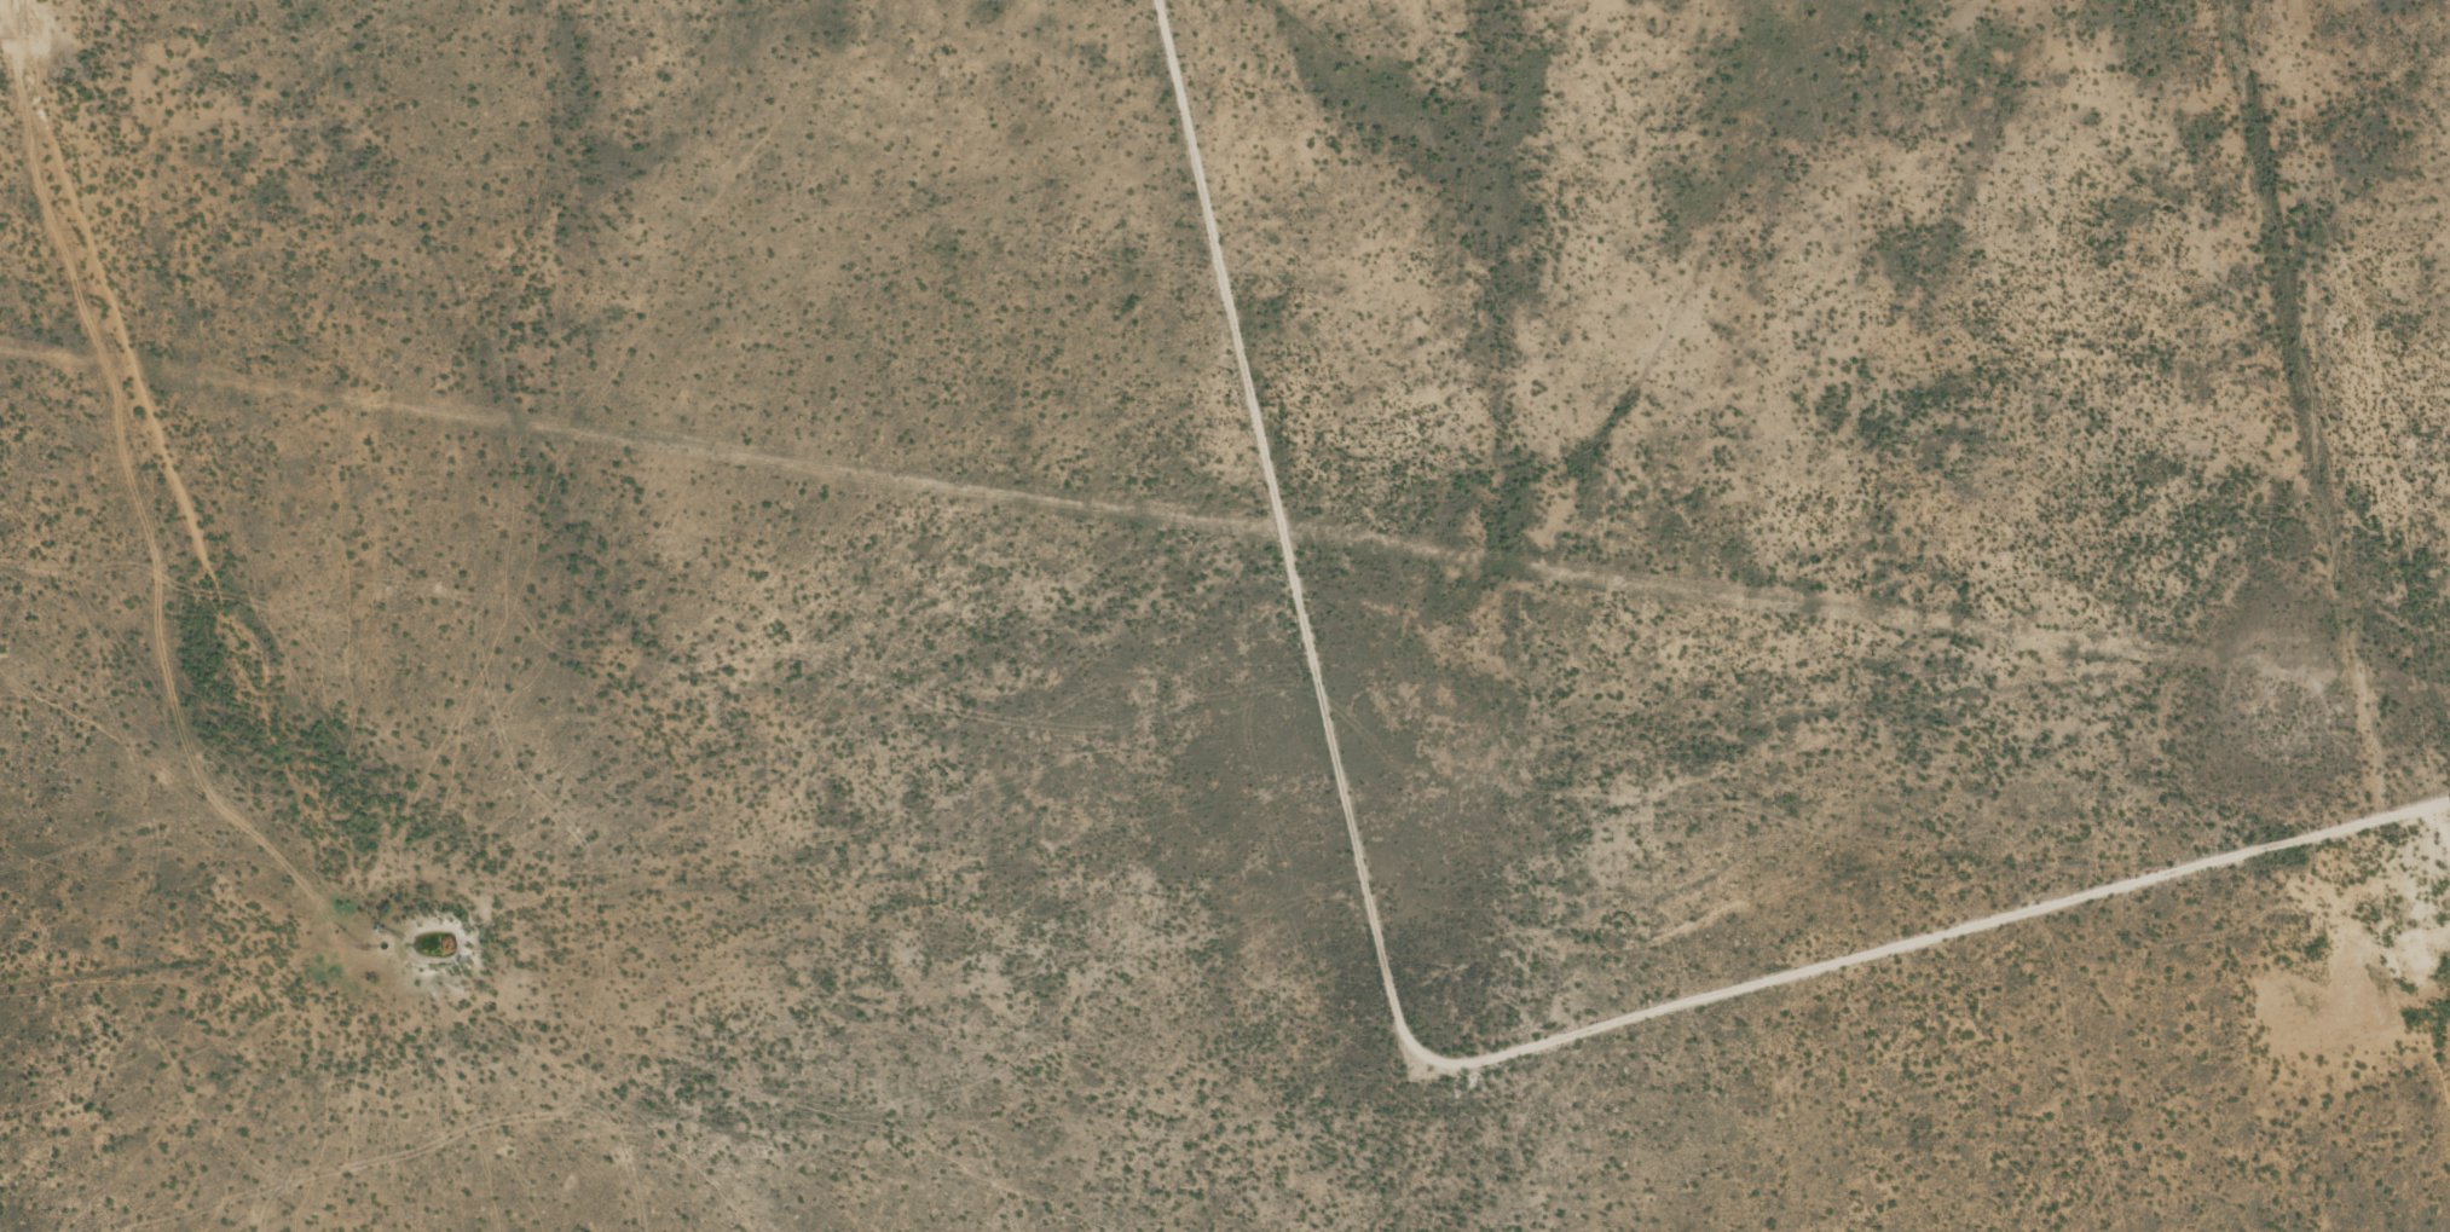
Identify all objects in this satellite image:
river: (716, 684)

